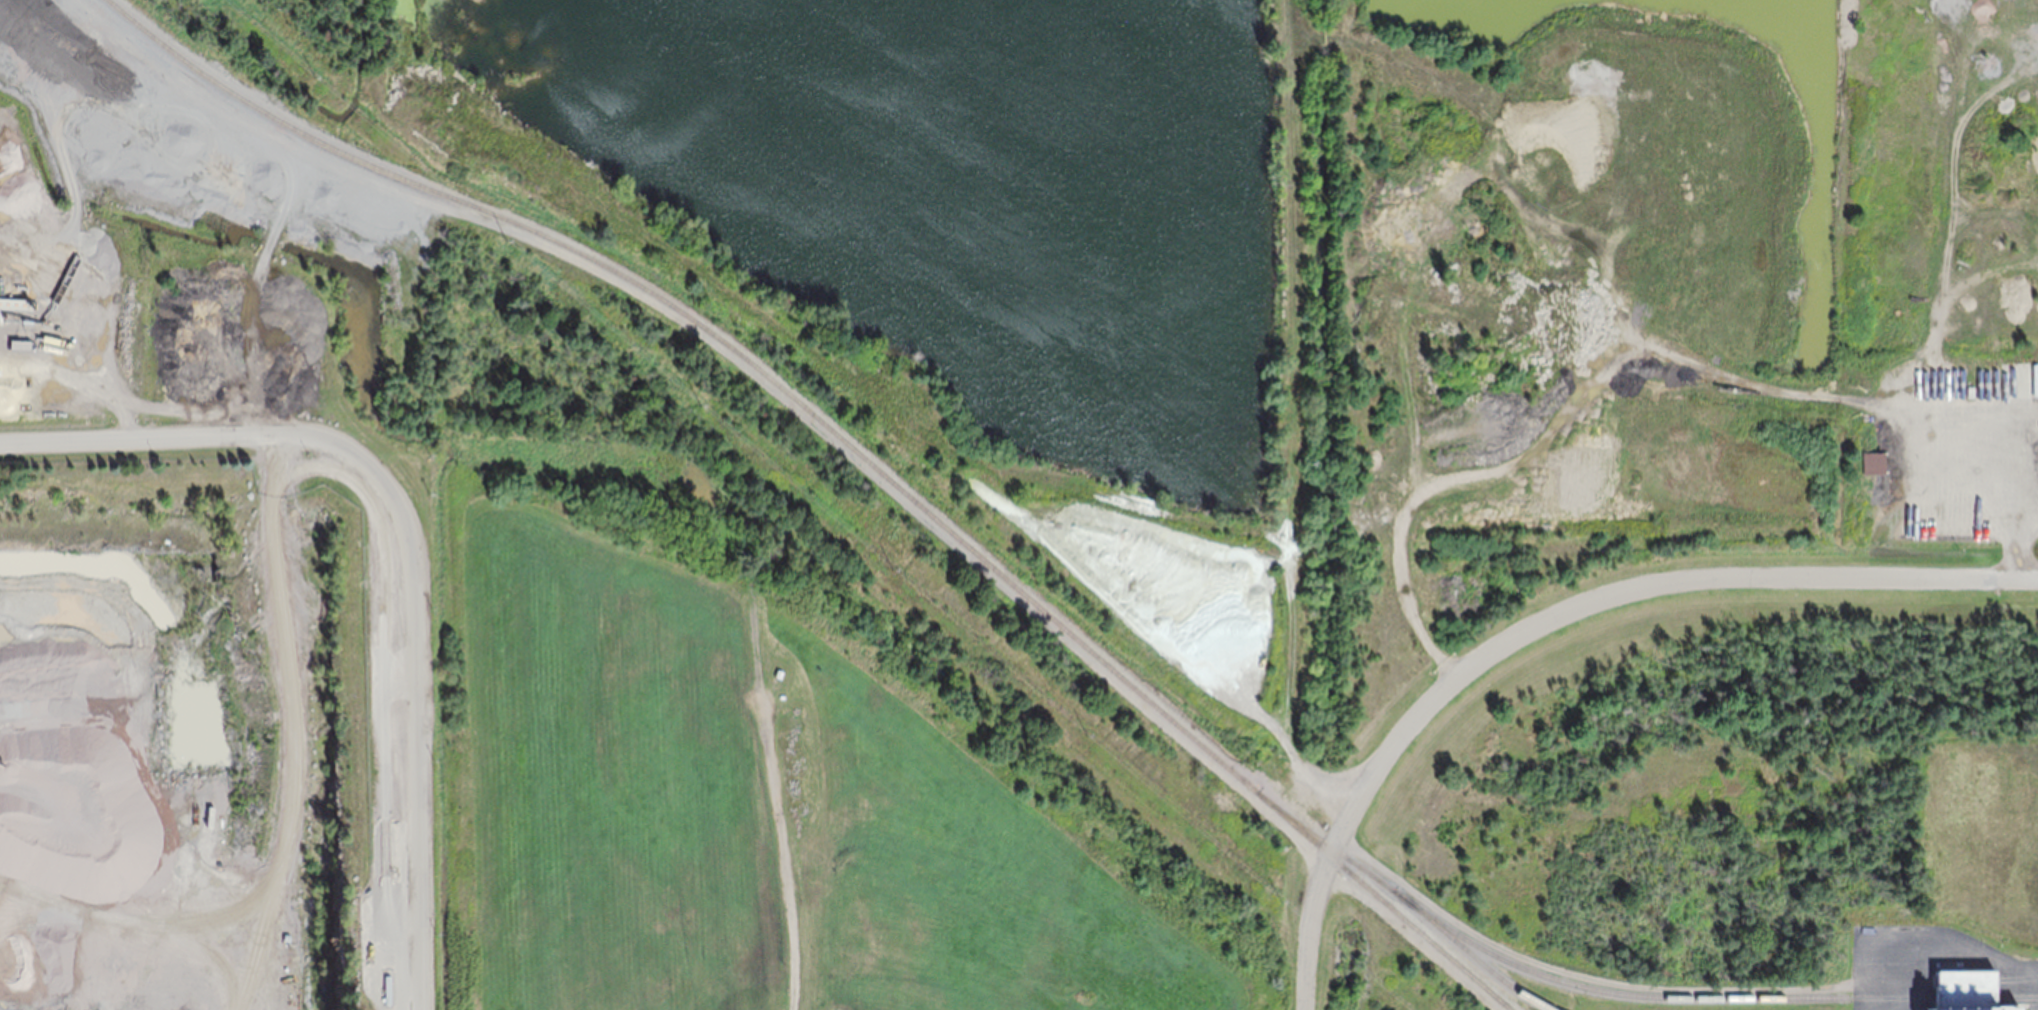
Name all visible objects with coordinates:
building: (1970, 390)
building: (1352, 445)
railway: (853, 448)
building: (1868, 462)
landfill: (195, 508)
road: (403, 544)
road: (1625, 588)
building: (777, 672)
building: (779, 695)
building: (52, 880)
railway: (1405, 900)
road: (1305, 930)
building: (369, 934)
road: (1950, 947)
road: (1860, 978)
railway: (1702, 996)
building: (1967, 999)

